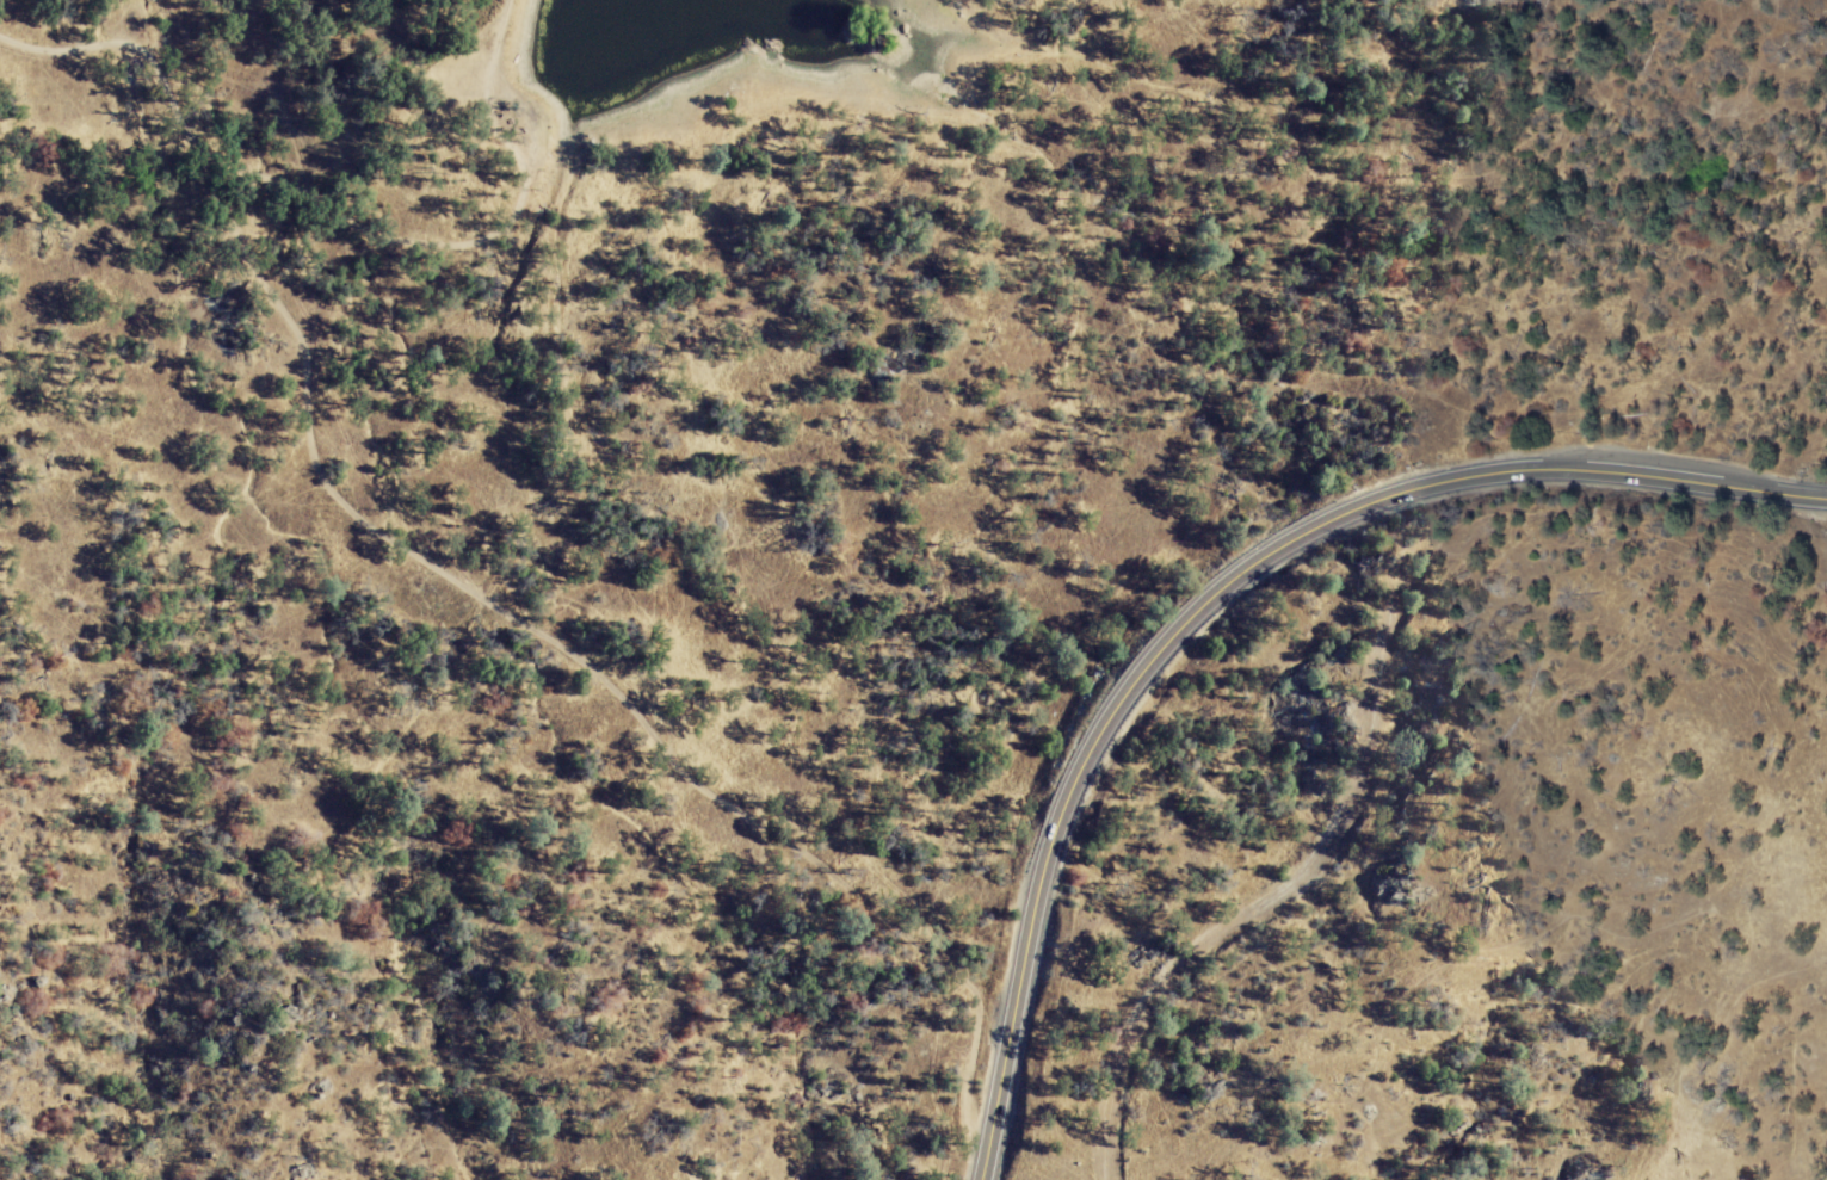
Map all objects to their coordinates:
road: (442, 575)
road: (1217, 598)

